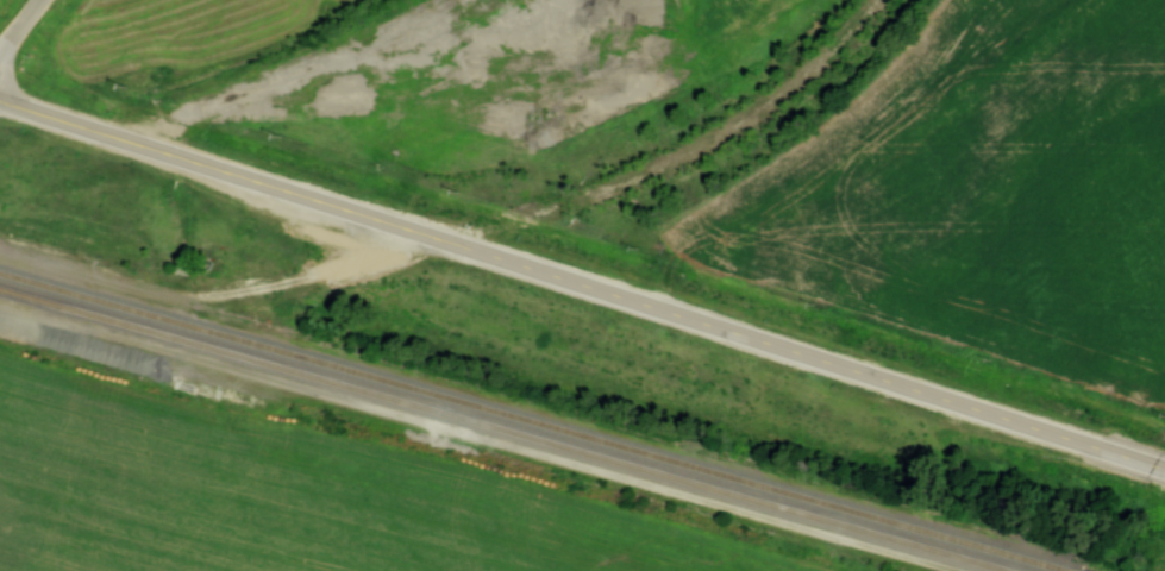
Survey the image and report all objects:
road: (19, 29)
road: (578, 288)
railway: (534, 421)
railway: (505, 429)
road: (1163, 465)

